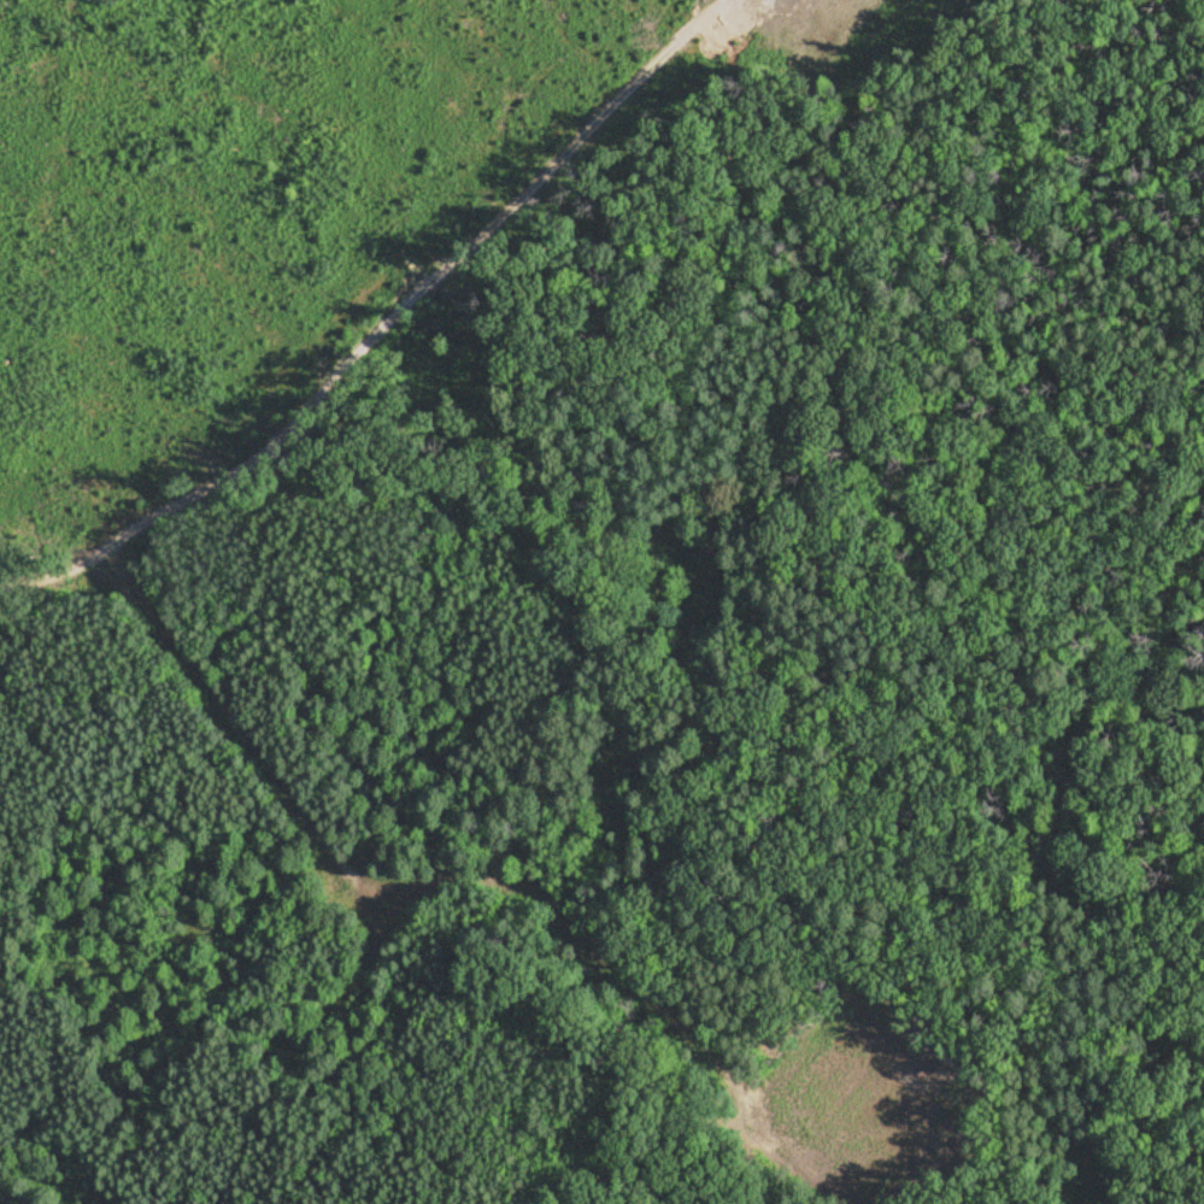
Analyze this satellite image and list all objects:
road: (53, 568)
road: (123, 574)

